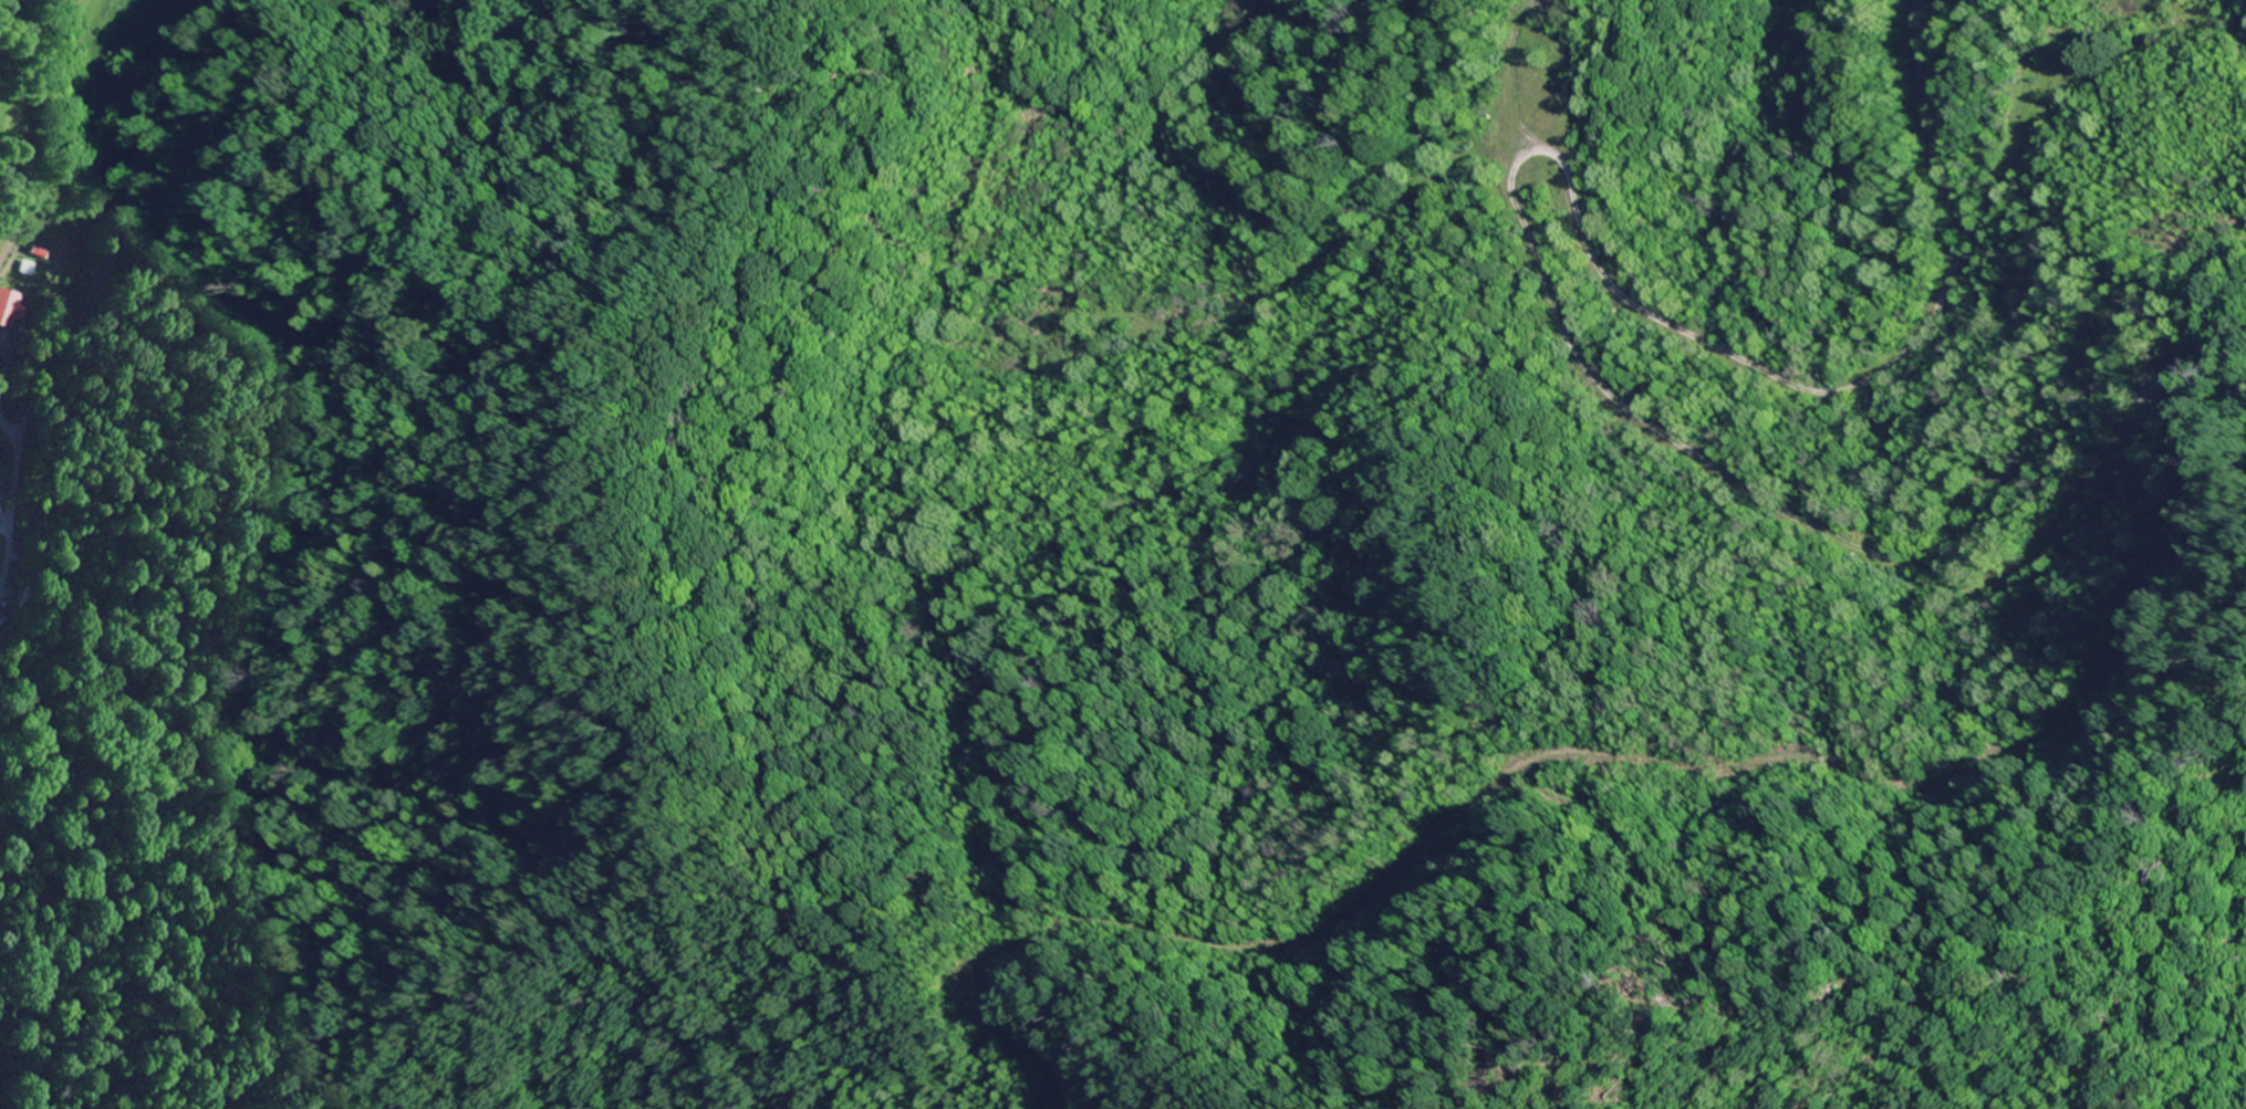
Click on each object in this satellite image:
road: (98, 290)
building: (8, 310)

